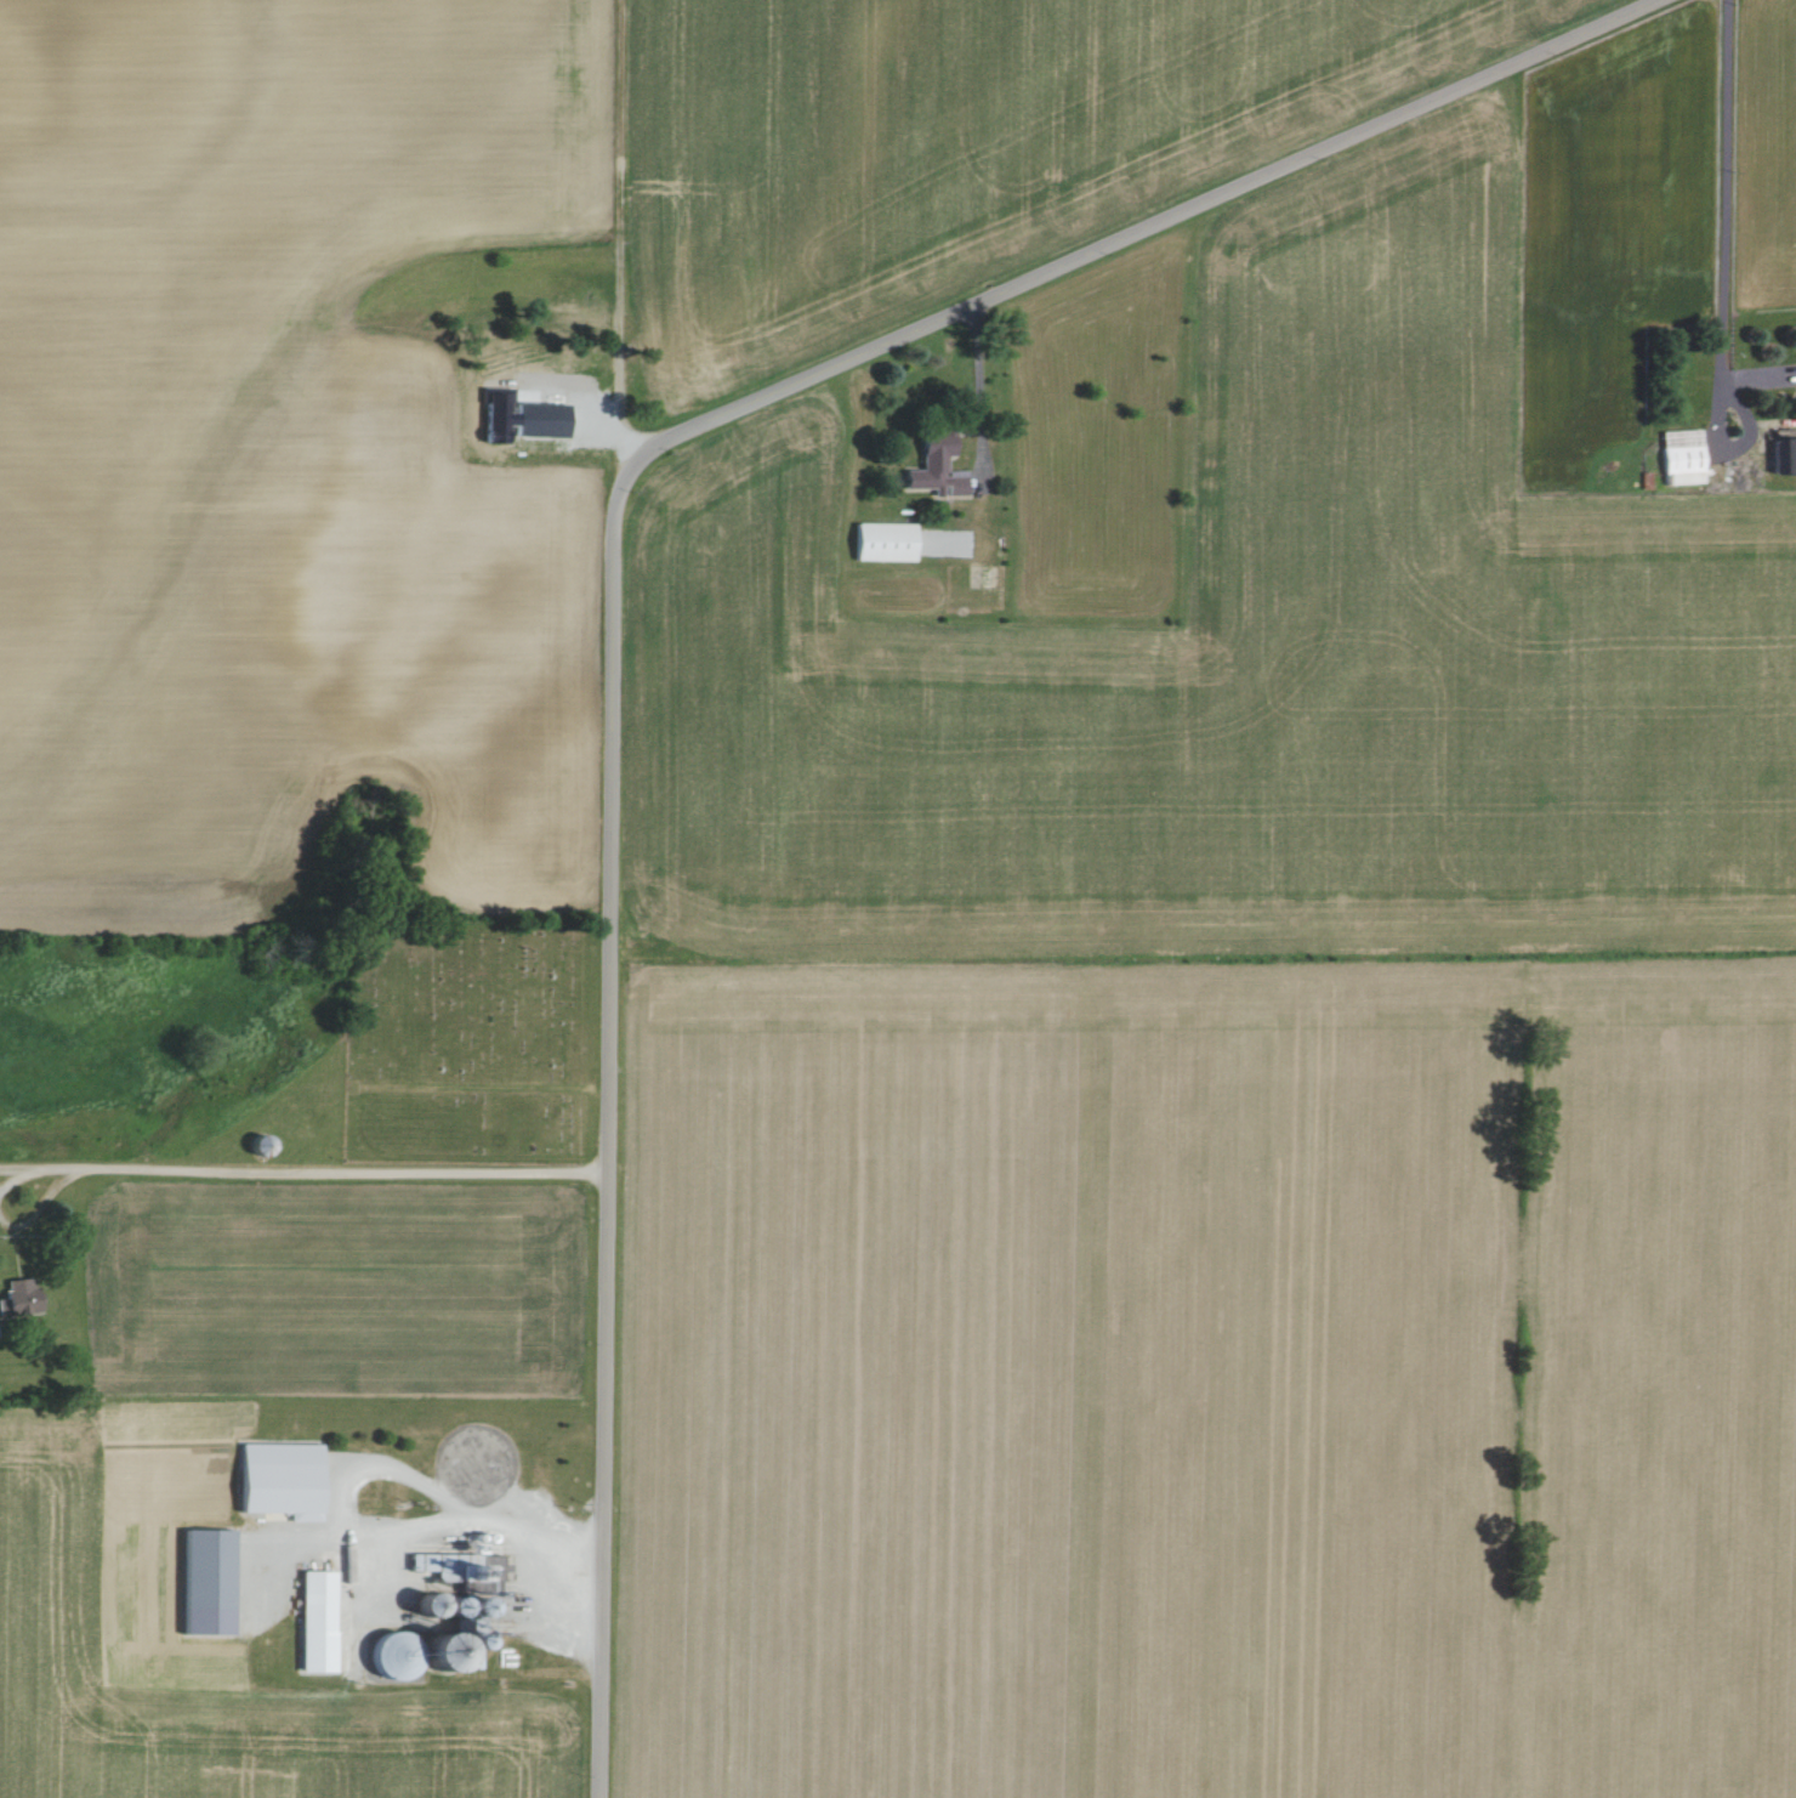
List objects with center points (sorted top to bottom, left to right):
road: (1729, 191)
road: (988, 385)
road: (587, 403)
road: (1737, 447)
building: (1781, 454)
building: (1680, 455)
building: (933, 466)
building: (881, 540)
road: (615, 567)
park: (471, 1040)
road: (340, 1167)
road: (64, 1175)
building: (16, 1294)
building: (275, 1480)
road: (461, 1522)
building: (459, 1566)
building: (461, 1609)
building: (313, 1622)
building: (416, 1654)

